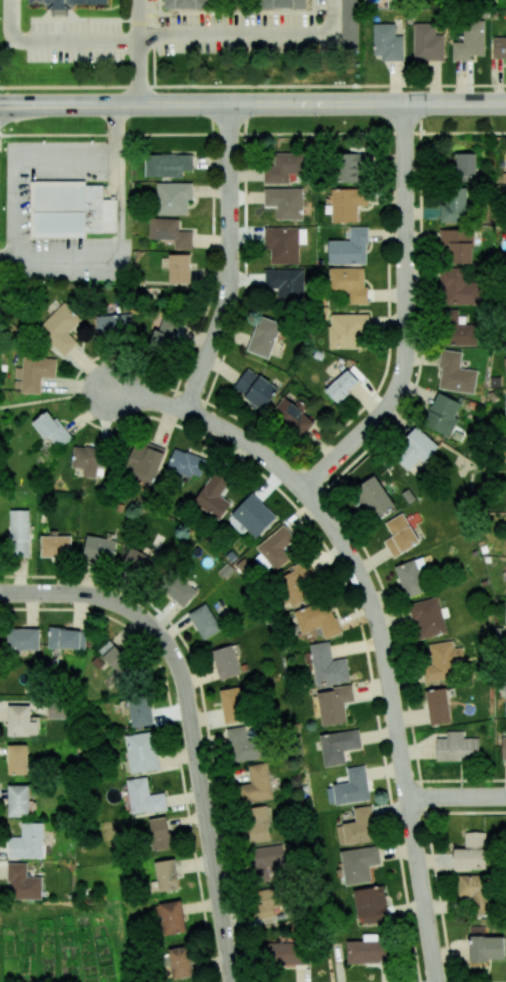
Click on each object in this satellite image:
building: (65, 3)
building: (186, 4)
building: (284, 4)
building: (349, 24)
road: (253, 38)
road: (57, 40)
building: (470, 41)
building: (387, 42)
building: (427, 43)
building: (499, 47)
road: (138, 52)
road: (252, 85)
road: (300, 103)
road: (47, 104)
road: (252, 133)
road: (66, 161)
building: (167, 165)
building: (465, 165)
building: (284, 167)
building: (350, 167)
building: (173, 198)
building: (285, 202)
building: (346, 204)
building: (454, 204)
building: (70, 209)
road: (17, 213)
building: (169, 232)
road: (119, 240)
building: (282, 244)
building: (457, 245)
building: (349, 248)
road: (229, 261)
building: (179, 268)
building: (285, 283)
building: (349, 283)
building: (457, 288)
road: (405, 316)
building: (113, 326)
building: (60, 328)
building: (456, 330)
building: (348, 331)
building: (164, 334)
building: (264, 337)
building: (455, 373)
building: (505, 373)
building: (33, 374)
building: (341, 386)
building: (255, 389)
road: (36, 401)
building: (505, 403)
building: (442, 414)
building: (292, 415)
building: (52, 430)
building: (415, 451)
building: (88, 459)
building: (144, 463)
building: (186, 463)
building: (213, 496)
building: (374, 496)
building: (253, 515)
building: (19, 533)
building: (400, 535)
building: (55, 545)
building: (277, 548)
building: (99, 549)
building: (141, 561)
building: (410, 578)
building: (296, 584)
building: (178, 590)
road: (374, 617)
building: (427, 618)
building: (317, 619)
building: (505, 619)
building: (204, 621)
building: (66, 638)
building: (23, 639)
building: (119, 661)
building: (441, 661)
building: (225, 662)
building: (327, 665)
building: (505, 697)
building: (334, 704)
building: (232, 705)
building: (437, 706)
building: (140, 712)
road: (190, 720)
building: (20, 721)
building: (243, 745)
building: (338, 746)
building: (457, 747)
building: (503, 748)
building: (142, 752)
building: (17, 759)
building: (256, 784)
building: (352, 787)
building: (143, 797)
road: (457, 797)
building: (18, 801)
building: (256, 824)
building: (357, 827)
building: (159, 833)
building: (27, 842)
building: (471, 852)
building: (266, 860)
building: (359, 864)
building: (166, 875)
building: (22, 883)
building: (474, 891)
building: (270, 902)
building: (371, 905)
building: (170, 917)
building: (486, 948)
building: (285, 953)
building: (180, 962)

